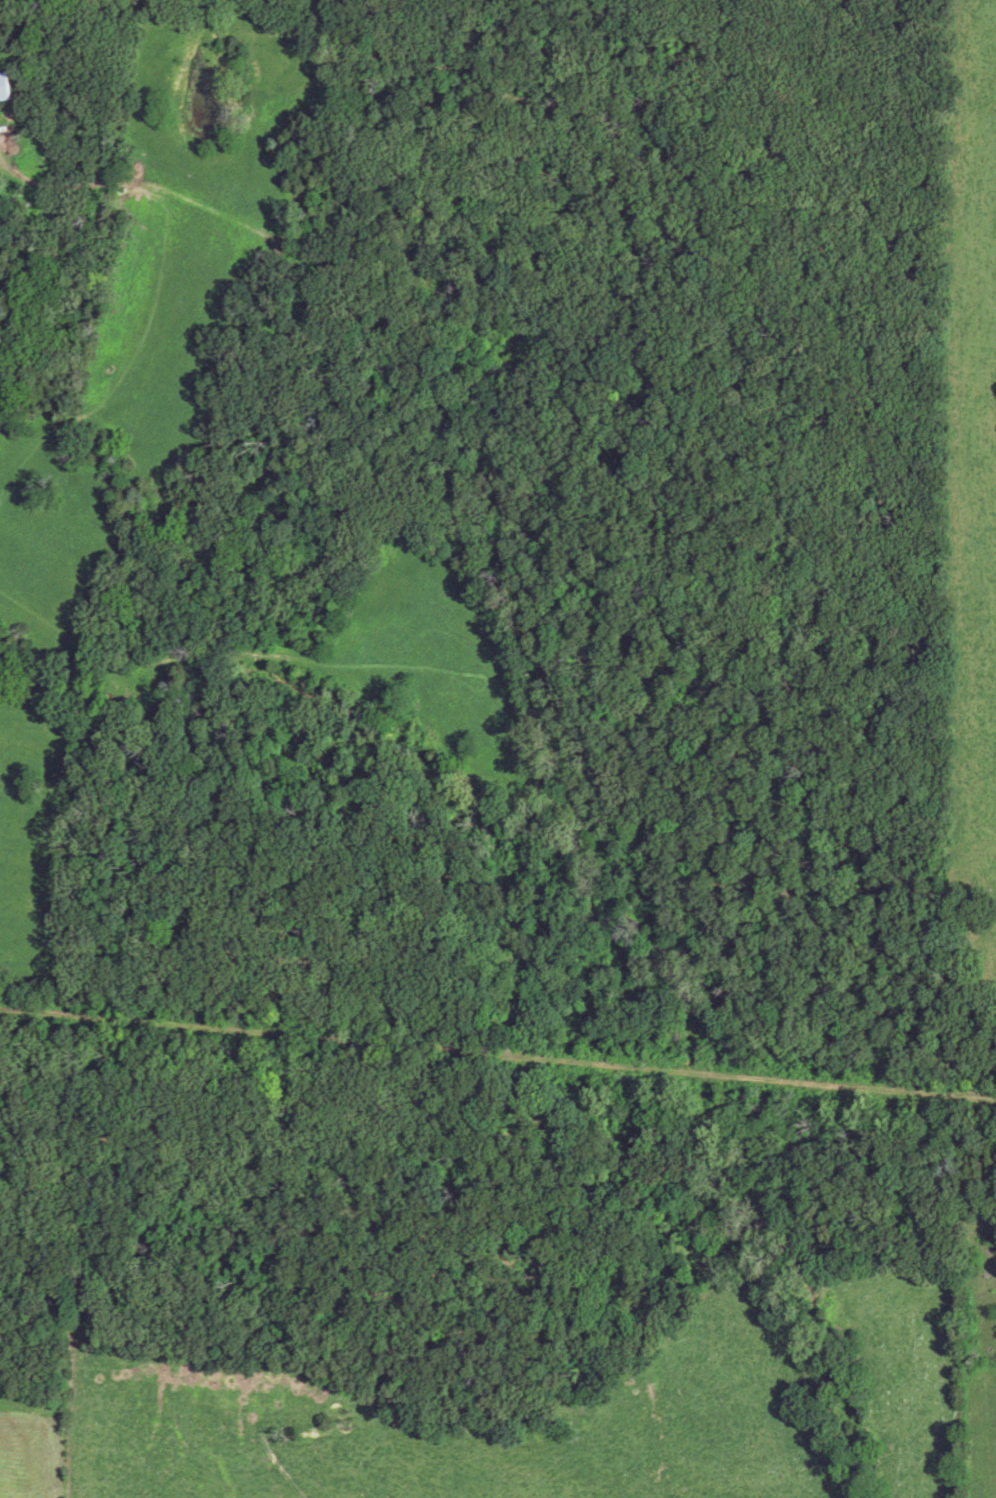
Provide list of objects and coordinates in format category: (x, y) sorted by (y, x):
building: (6, 87)

